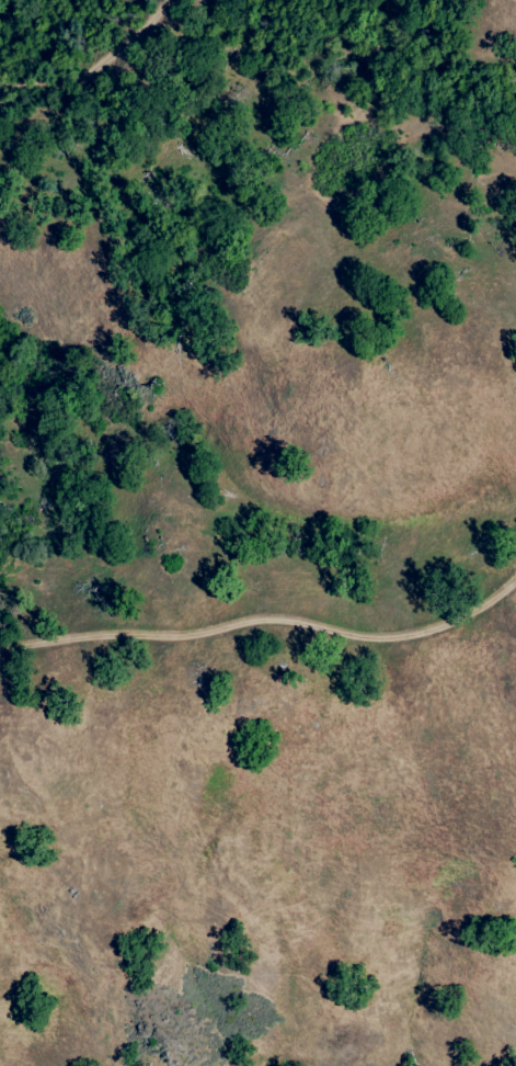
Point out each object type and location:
road: (99, 69)
road: (265, 624)

